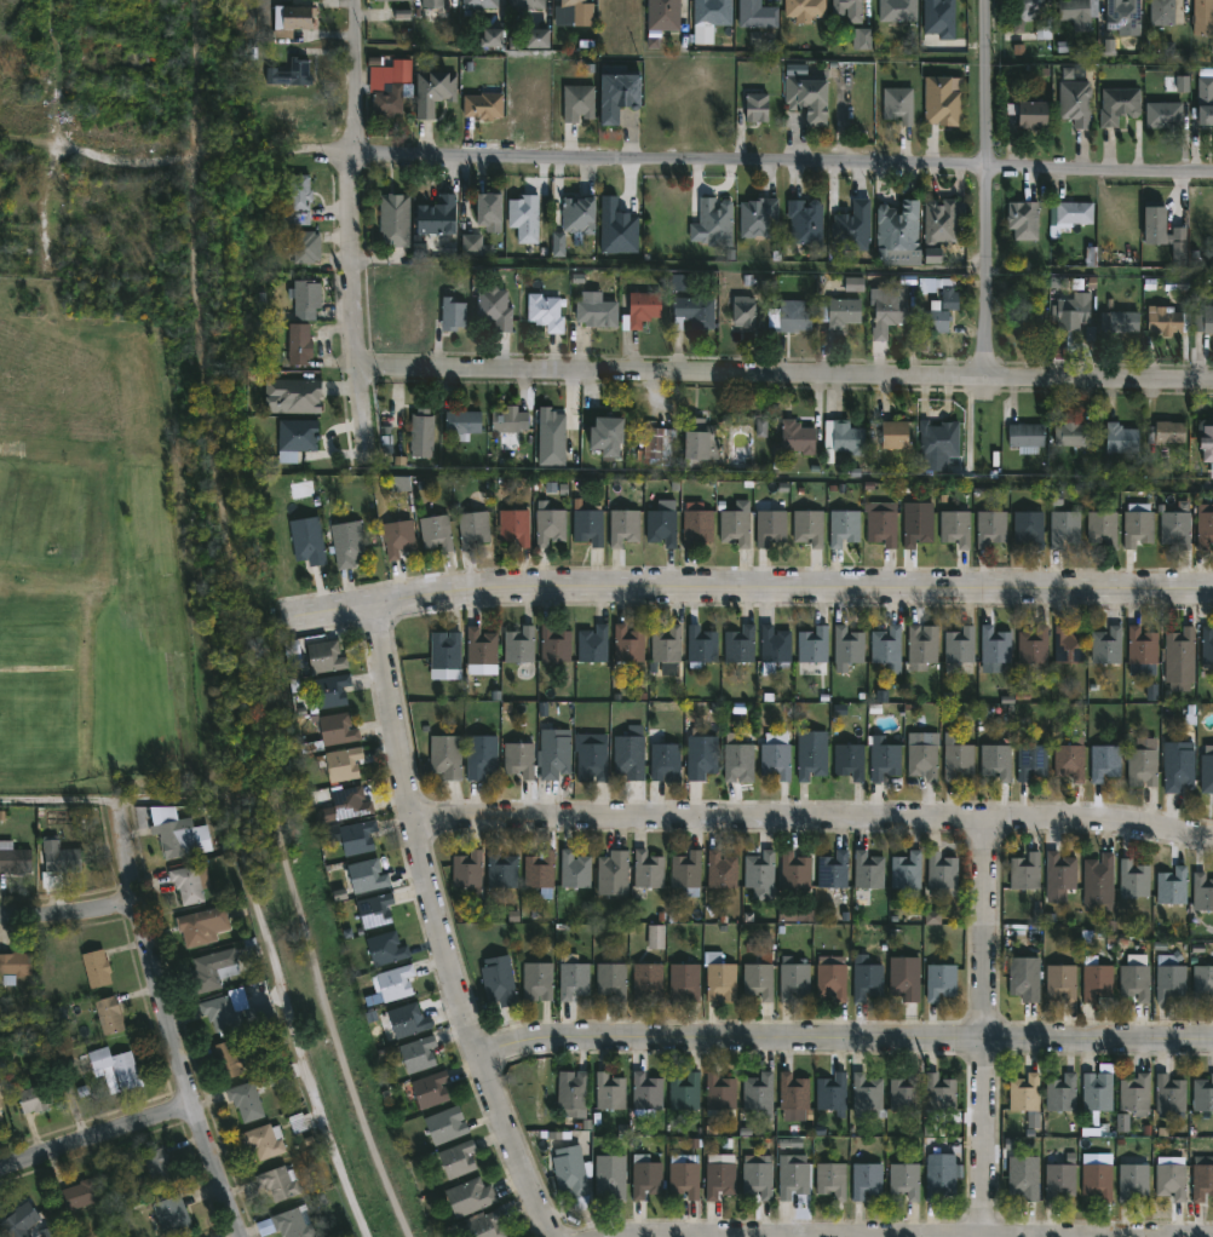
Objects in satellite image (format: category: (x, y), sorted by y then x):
building: (392, 0)
building: (574, 2)
building: (430, 4)
building: (478, 4)
building: (529, 4)
building: (804, 8)
building: (847, 10)
building: (897, 10)
building: (1077, 12)
building: (1163, 12)
building: (755, 13)
building: (1123, 13)
building: (662, 15)
building: (711, 15)
building: (289, 16)
building: (1033, 16)
building: (1202, 17)
building: (537, 40)
building: (289, 73)
road: (59, 74)
railway: (200, 79)
building: (431, 91)
building: (389, 97)
building: (619, 97)
building: (805, 97)
building: (942, 100)
building: (1206, 100)
building: (576, 102)
building: (1075, 102)
building: (897, 104)
building: (1119, 104)
building: (482, 105)
building: (754, 105)
building: (1029, 114)
building: (1163, 114)
road: (29, 148)
road: (636, 165)
road: (988, 189)
building: (297, 200)
building: (487, 207)
building: (1069, 214)
building: (435, 215)
building: (577, 217)
building: (758, 217)
building: (393, 218)
building: (1022, 219)
building: (805, 221)
building: (939, 221)
building: (712, 223)
building: (1154, 224)
building: (852, 226)
building: (896, 229)
road: (352, 231)
building: (475, 244)
building: (304, 246)
road: (1100, 271)
building: (855, 286)
building: (306, 294)
building: (643, 306)
building: (494, 307)
building: (887, 310)
building: (545, 311)
building: (692, 311)
building: (742, 311)
building: (839, 311)
building: (1071, 311)
building: (452, 312)
building: (594, 312)
building: (791, 317)
building: (933, 318)
building: (1023, 320)
building: (1203, 320)
building: (1120, 321)
building: (1167, 321)
building: (298, 343)
road: (784, 375)
building: (293, 395)
building: (510, 421)
building: (462, 422)
building: (421, 432)
building: (1166, 432)
building: (603, 435)
building: (895, 435)
building: (1074, 435)
building: (765, 436)
building: (797, 437)
building: (847, 437)
building: (1027, 437)
building: (1121, 438)
building: (1206, 439)
building: (697, 442)
building: (659, 444)
building: (936, 444)
building: (587, 524)
building: (1203, 525)
building: (513, 527)
building: (550, 527)
building: (623, 527)
building: (661, 527)
building: (696, 527)
building: (735, 527)
building: (770, 527)
building: (844, 527)
building: (881, 527)
building: (472, 528)
building: (807, 528)
building: (916, 528)
building: (955, 528)
building: (990, 528)
building: (1028, 528)
building: (1064, 528)
building: (1102, 528)
building: (1137, 528)
building: (1175, 529)
building: (436, 533)
building: (397, 539)
building: (307, 540)
building: (346, 543)
road: (748, 585)
building: (553, 644)
building: (593, 644)
building: (740, 644)
building: (1207, 644)
building: (519, 645)
building: (700, 645)
building: (812, 645)
building: (960, 645)
building: (995, 645)
building: (1033, 645)
building: (1069, 645)
building: (1106, 645)
building: (626, 646)
building: (922, 646)
building: (1143, 646)
building: (847, 648)
building: (886, 648)
building: (666, 649)
building: (775, 649)
building: (444, 650)
building: (481, 651)
building: (323, 656)
building: (292, 657)
building: (1179, 658)
building: (329, 690)
railway: (261, 707)
building: (337, 729)
building: (553, 753)
building: (445, 755)
building: (481, 755)
building: (591, 756)
building: (628, 756)
building: (701, 756)
building: (924, 756)
building: (518, 759)
building: (883, 759)
building: (737, 760)
building: (776, 760)
building: (811, 760)
building: (849, 760)
building: (1070, 760)
building: (665, 761)
building: (958, 761)
building: (996, 761)
building: (1031, 763)
building: (1104, 763)
building: (341, 764)
building: (1177, 766)
building: (1142, 767)
building: (1207, 771)
road: (56, 800)
building: (350, 802)
road: (812, 823)
building: (176, 834)
building: (356, 838)
building: (13, 858)
building: (61, 861)
building: (500, 869)
building: (539, 869)
building: (573, 869)
building: (646, 870)
building: (720, 870)
building: (759, 870)
building: (794, 870)
building: (833, 870)
building: (868, 870)
building: (906, 870)
building: (1025, 870)
building: (467, 871)
building: (686, 873)
building: (613, 874)
building: (941, 875)
building: (366, 876)
building: (1059, 876)
building: (1099, 879)
building: (1133, 879)
building: (186, 885)
building: (1172, 886)
building: (1202, 893)
building: (374, 910)
road: (68, 914)
building: (201, 926)
road: (438, 926)
building: (385, 949)
building: (13, 965)
building: (96, 967)
road: (275, 967)
building: (212, 970)
building: (832, 977)
building: (1134, 977)
building: (719, 978)
building: (793, 978)
building: (906, 978)
building: (1023, 978)
building: (1096, 978)
building: (611, 979)
building: (758, 979)
building: (939, 979)
building: (498, 980)
building: (536, 980)
building: (573, 980)
building: (867, 980)
building: (1062, 980)
building: (1202, 980)
building: (1171, 982)
building: (395, 983)
building: (648, 983)
building: (684, 983)
building: (108, 1013)
building: (220, 1013)
road: (169, 1019)
building: (406, 1020)
road: (983, 1031)
road: (843, 1038)
building: (416, 1054)
building: (225, 1060)
road: (65, 1063)
building: (113, 1066)
building: (608, 1089)
building: (430, 1091)
building: (645, 1091)
building: (684, 1091)
building: (719, 1091)
building: (793, 1091)
building: (866, 1091)
building: (1097, 1091)
building: (571, 1092)
building: (904, 1092)
building: (939, 1092)
building: (1060, 1092)
building: (0, 1093)
building: (758, 1093)
building: (832, 1093)
building: (1169, 1093)
building: (1202, 1093)
building: (1134, 1094)
building: (34, 1095)
building: (1025, 1095)
building: (245, 1100)
building: (445, 1124)
road: (97, 1134)
building: (263, 1139)
building: (458, 1158)
building: (156, 1167)
building: (573, 1174)
building: (610, 1175)
building: (720, 1175)
building: (792, 1175)
building: (645, 1176)
building: (684, 1176)
building: (758, 1176)
building: (939, 1176)
building: (1024, 1176)
building: (1060, 1178)
building: (1202, 1178)
building: (830, 1179)
building: (866, 1179)
building: (904, 1179)
building: (1097, 1179)
building: (1132, 1180)
building: (1169, 1180)
building: (277, 1183)
building: (79, 1192)
building: (468, 1196)
building: (171, 1215)
building: (24, 1222)
building: (287, 1224)
building: (487, 1225)
road: (857, 1236)

